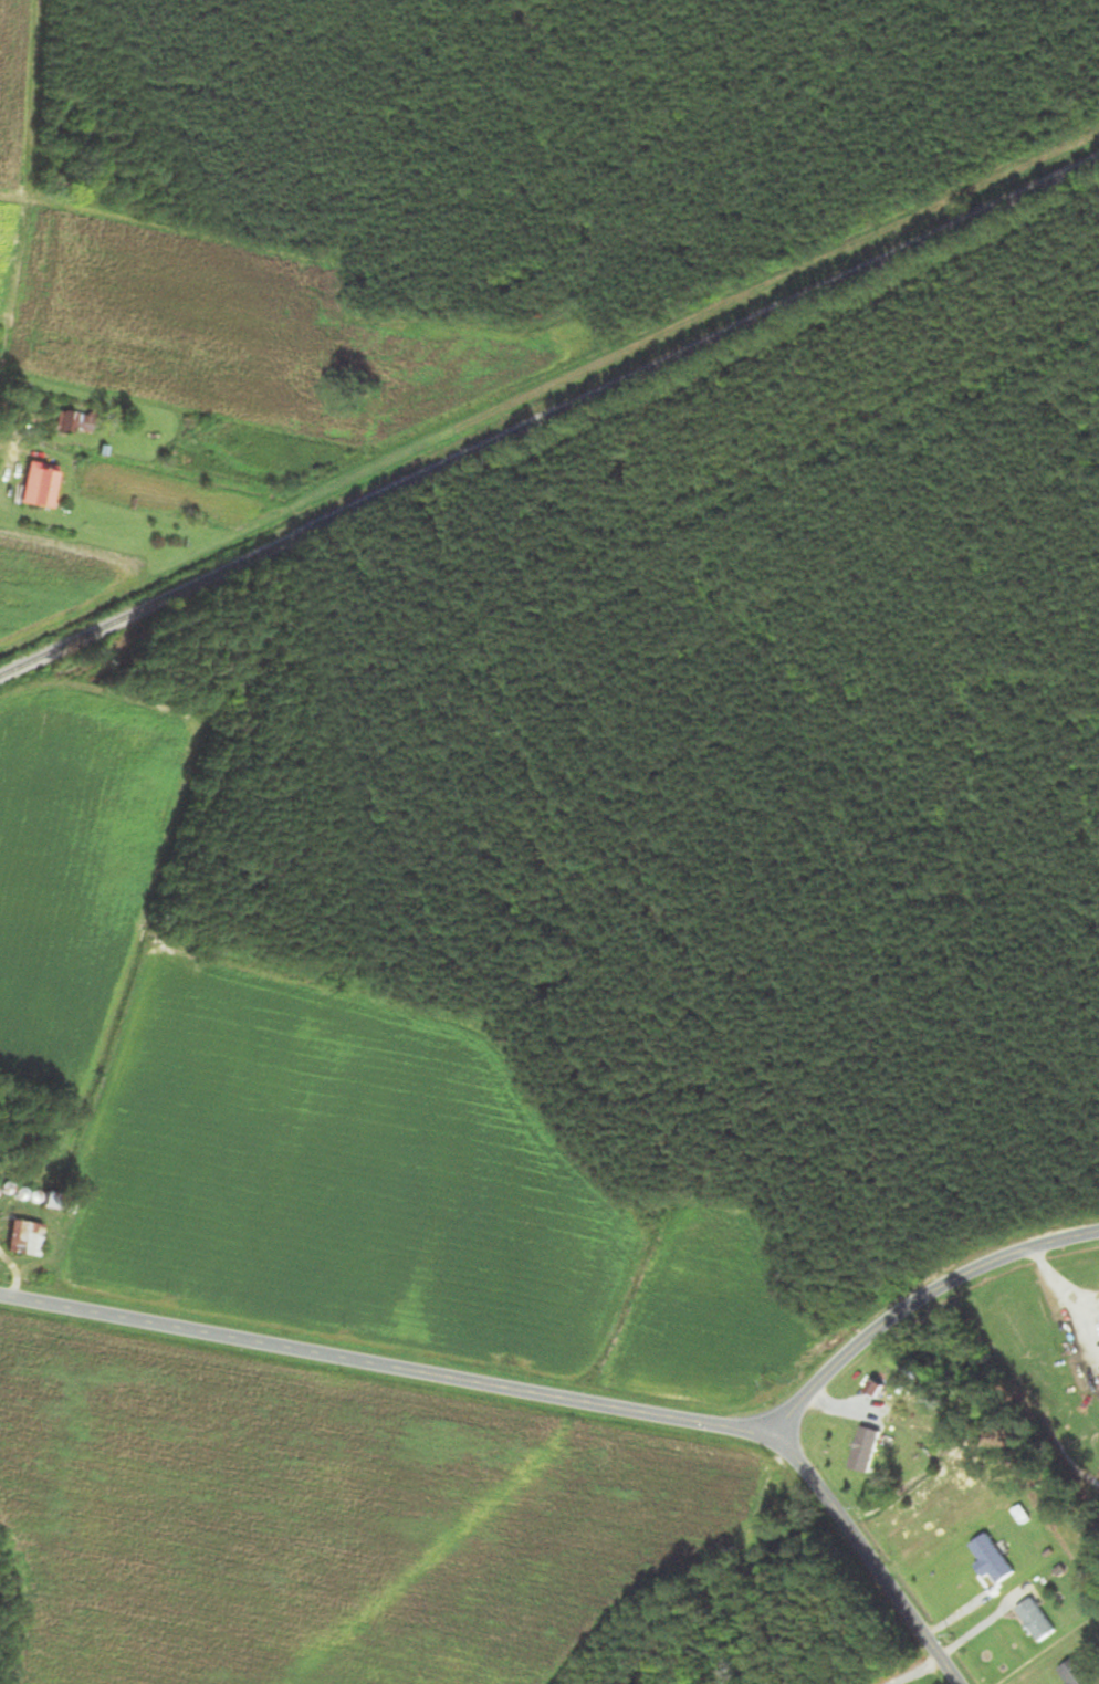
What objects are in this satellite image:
railway: (549, 416)
road: (17, 418)
building: (34, 485)
building: (61, 1203)
building: (20, 1237)
road: (917, 1303)
road: (540, 1392)
building: (864, 1451)
building: (993, 1559)
building: (1036, 1620)
building: (1077, 1673)

